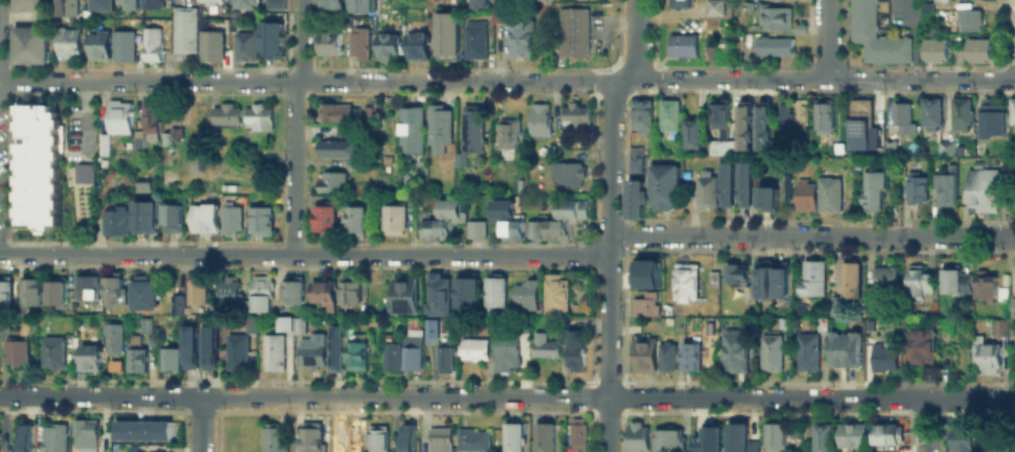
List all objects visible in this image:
building: (535, 0)
building: (941, 0)
building: (131, 2)
building: (213, 2)
building: (152, 3)
building: (243, 3)
building: (330, 3)
building: (478, 3)
building: (679, 3)
building: (277, 4)
building: (30, 5)
building: (99, 5)
building: (359, 5)
building: (926, 5)
building: (68, 7)
building: (714, 7)
building: (499, 14)
building: (777, 17)
building: (969, 19)
building: (184, 30)
building: (572, 30)
building: (874, 35)
building: (520, 37)
building: (474, 38)
road: (913, 38)
building: (271, 39)
road: (636, 39)
road: (827, 39)
building: (328, 40)
building: (69, 41)
building: (446, 41)
building: (99, 42)
building: (154, 42)
building: (358, 42)
building: (30, 44)
building: (123, 44)
building: (773, 44)
building: (212, 45)
building: (244, 45)
building: (416, 45)
building: (683, 45)
building: (388, 46)
building: (708, 47)
building: (935, 49)
building: (979, 49)
road: (920, 79)
road: (413, 81)
building: (1012, 109)
building: (337, 111)
building: (366, 111)
building: (718, 111)
building: (930, 112)
building: (669, 113)
building: (960, 113)
building: (150, 114)
building: (225, 114)
building: (641, 114)
building: (823, 114)
building: (118, 116)
building: (197, 116)
building: (257, 116)
building: (575, 116)
building: (902, 116)
building: (992, 116)
building: (784, 118)
building: (538, 119)
building: (743, 123)
building: (762, 124)
road: (294, 126)
building: (411, 127)
building: (438, 128)
building: (472, 128)
building: (692, 130)
building: (507, 133)
building: (862, 134)
building: (136, 141)
building: (103, 142)
building: (336, 146)
building: (721, 146)
building: (889, 146)
building: (944, 147)
road: (611, 158)
building: (196, 160)
building: (352, 163)
building: (634, 164)
building: (37, 166)
building: (84, 172)
building: (565, 173)
building: (688, 176)
building: (331, 180)
building: (723, 181)
building: (742, 181)
building: (518, 184)
building: (664, 184)
building: (142, 186)
building: (916, 186)
building: (982, 186)
building: (706, 188)
building: (871, 188)
building: (943, 188)
building: (786, 189)
building: (764, 193)
building: (829, 193)
building: (804, 194)
building: (634, 198)
building: (449, 208)
building: (502, 208)
building: (570, 208)
building: (143, 213)
building: (172, 217)
building: (203, 217)
building: (324, 217)
building: (232, 218)
building: (353, 218)
building: (394, 218)
building: (116, 220)
building: (261, 221)
building: (510, 227)
building: (434, 228)
building: (474, 228)
building: (534, 228)
building: (557, 228)
road: (812, 235)
road: (304, 253)
building: (646, 273)
building: (735, 273)
building: (810, 276)
building: (883, 276)
building: (712, 277)
building: (954, 278)
building: (849, 279)
building: (919, 280)
building: (684, 281)
building: (766, 282)
building: (983, 283)
building: (30, 287)
building: (86, 287)
building: (112, 287)
building: (5, 288)
building: (292, 288)
building: (349, 288)
building: (227, 289)
building: (1001, 289)
building: (56, 290)
building: (466, 290)
building: (198, 291)
building: (145, 292)
building: (495, 292)
building: (555, 292)
building: (261, 293)
building: (323, 294)
building: (437, 294)
building: (525, 294)
building: (403, 295)
building: (176, 301)
building: (644, 303)
building: (17, 304)
building: (834, 305)
building: (1012, 306)
building: (664, 307)
building: (666, 319)
building: (282, 320)
building: (248, 321)
building: (298, 322)
building: (146, 323)
building: (867, 323)
building: (431, 324)
building: (998, 325)
building: (113, 337)
building: (337, 342)
road: (609, 343)
building: (189, 345)
building: (210, 345)
building: (543, 345)
building: (808, 346)
building: (917, 347)
building: (412, 348)
building: (475, 348)
building: (843, 348)
building: (237, 349)
building: (507, 349)
building: (575, 349)
building: (16, 350)
building: (733, 350)
building: (53, 351)
building: (273, 351)
building: (313, 351)
building: (356, 351)
building: (644, 354)
building: (444, 355)
building: (666, 355)
building: (690, 355)
building: (766, 355)
building: (90, 356)
building: (390, 356)
building: (882, 356)
building: (981, 356)
building: (136, 357)
building: (169, 358)
building: (120, 361)
building: (1014, 365)
road: (507, 396)
road: (201, 424)
road: (926, 424)
building: (141, 427)
building: (792, 428)
building: (578, 431)
building: (84, 432)
building: (886, 432)
building: (851, 434)
building: (23, 436)
building: (311, 436)
building: (636, 436)
building: (53, 437)
building: (273, 437)
building: (407, 437)
building: (512, 437)
building: (774, 437)
building: (820, 437)
building: (960, 437)
building: (377, 438)
building: (544, 438)
building: (669, 438)
building: (739, 438)
building: (439, 439)
building: (472, 439)
building: (707, 439)
building: (997, 449)

